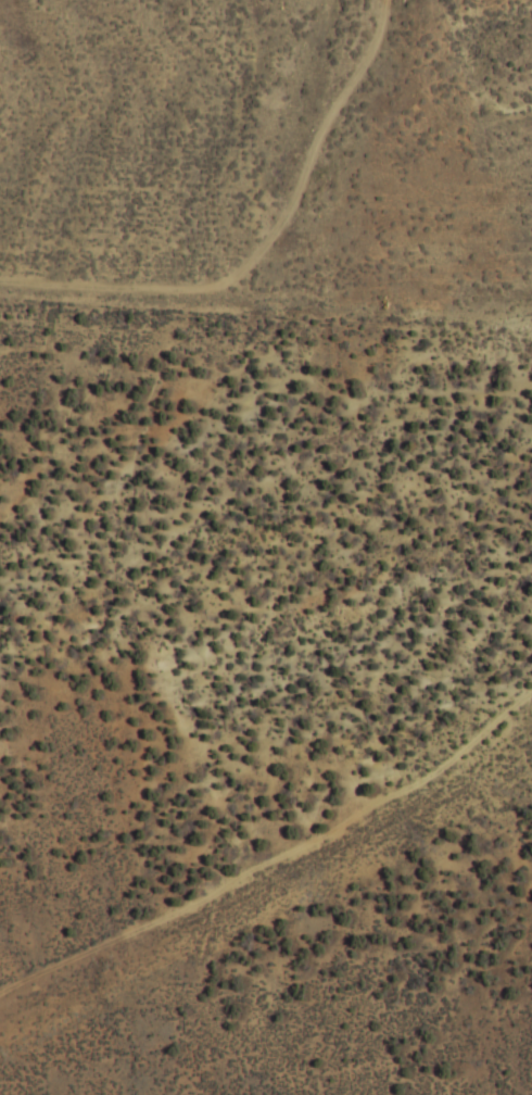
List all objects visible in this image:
road: (16, 7)
road: (266, 393)

